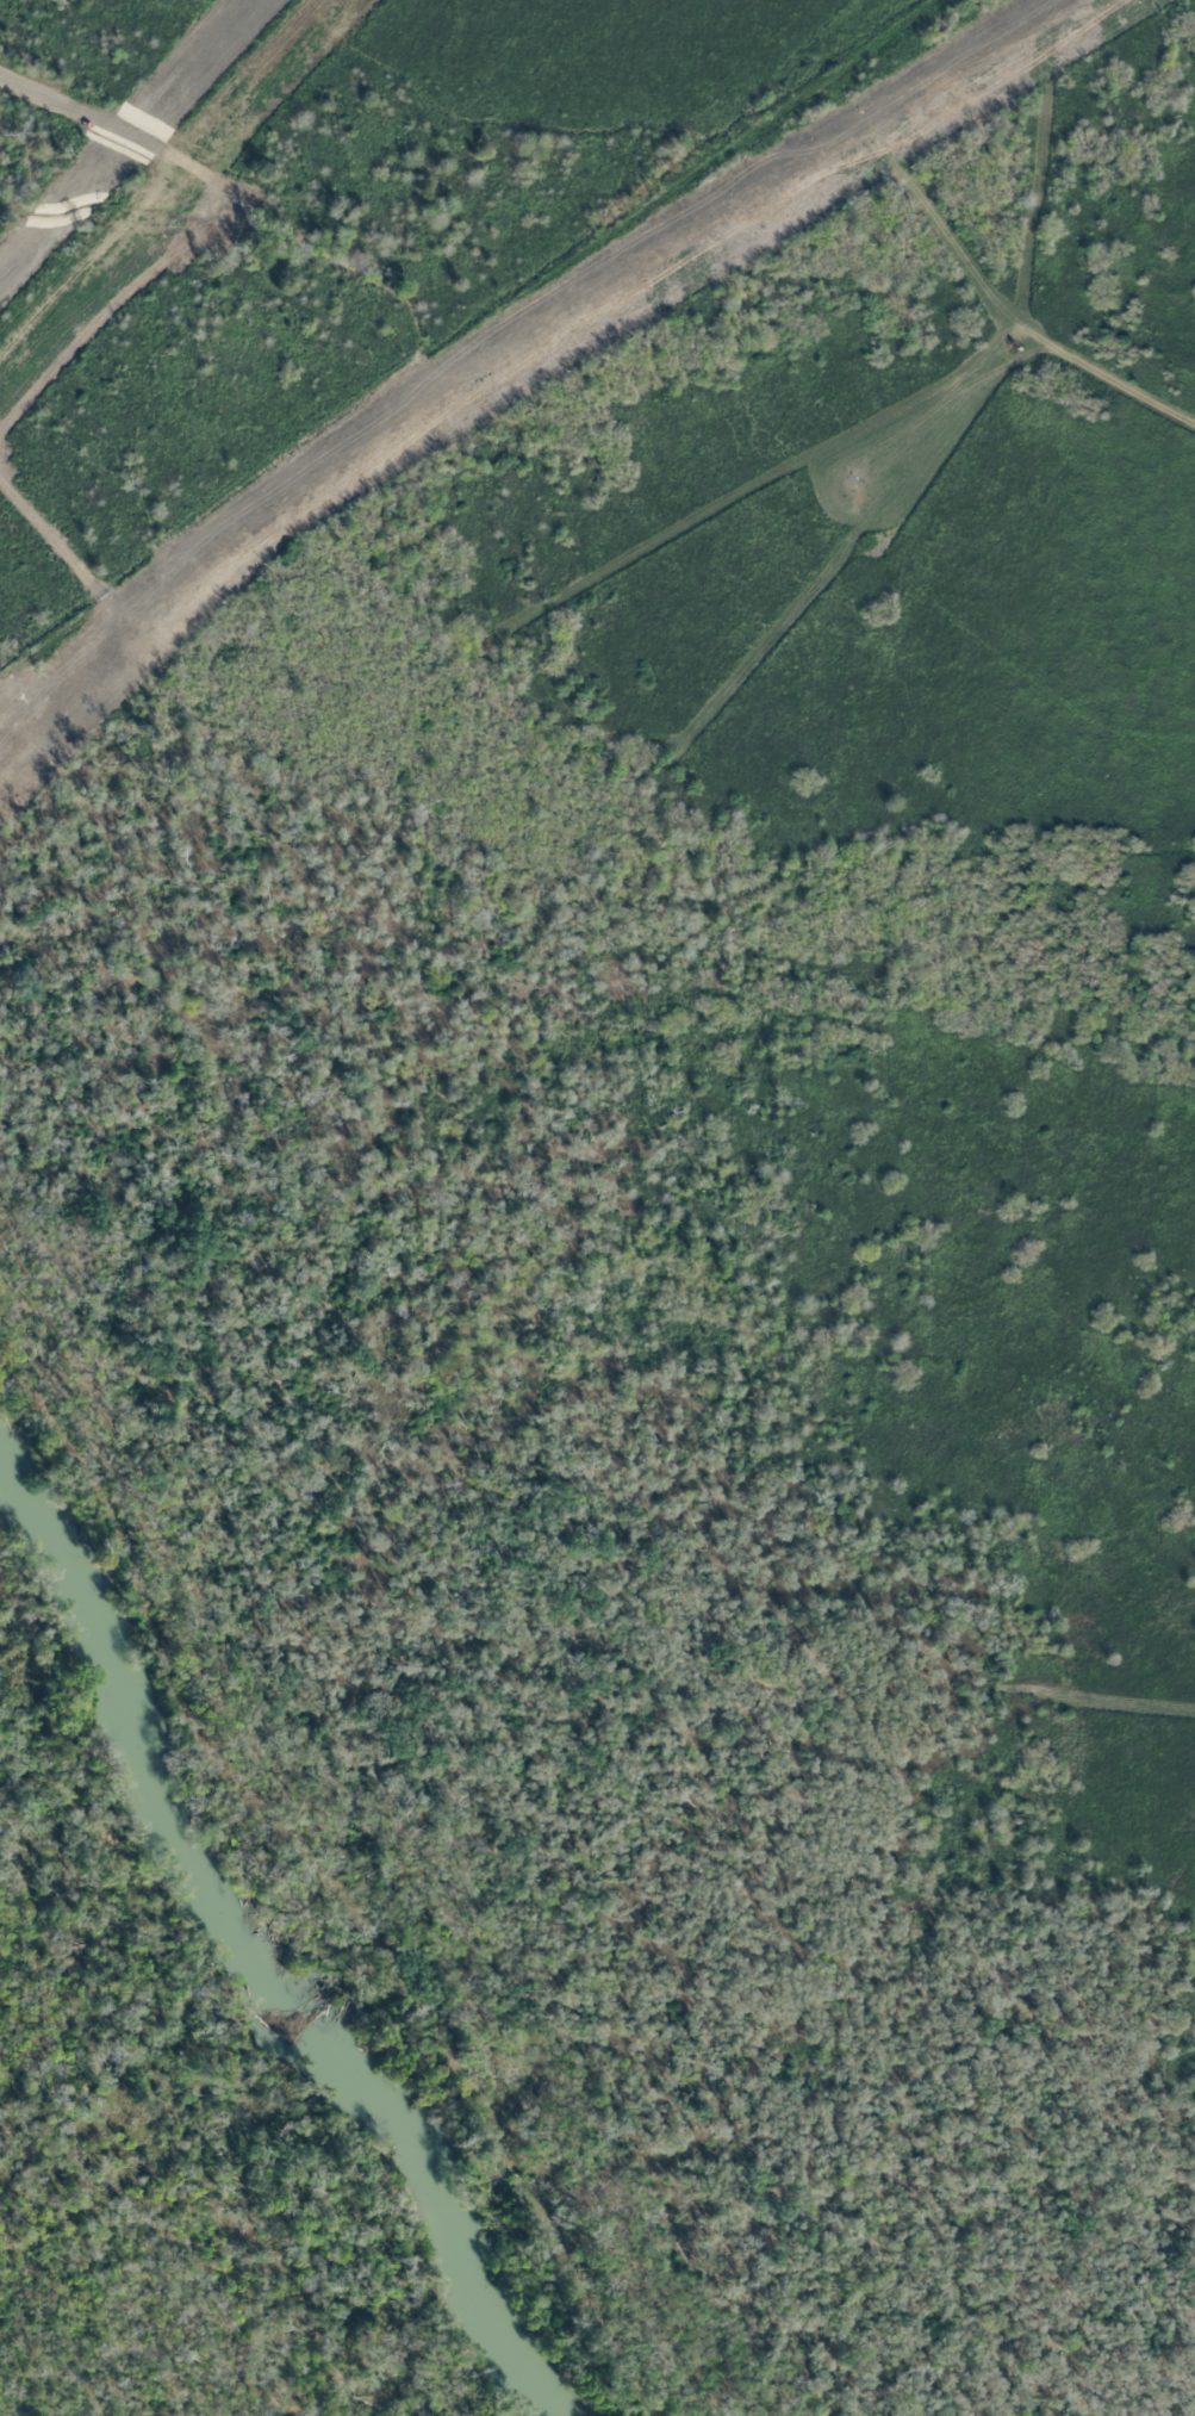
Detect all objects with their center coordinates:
road: (82, 112)
road: (160, 172)
river: (273, 1954)

